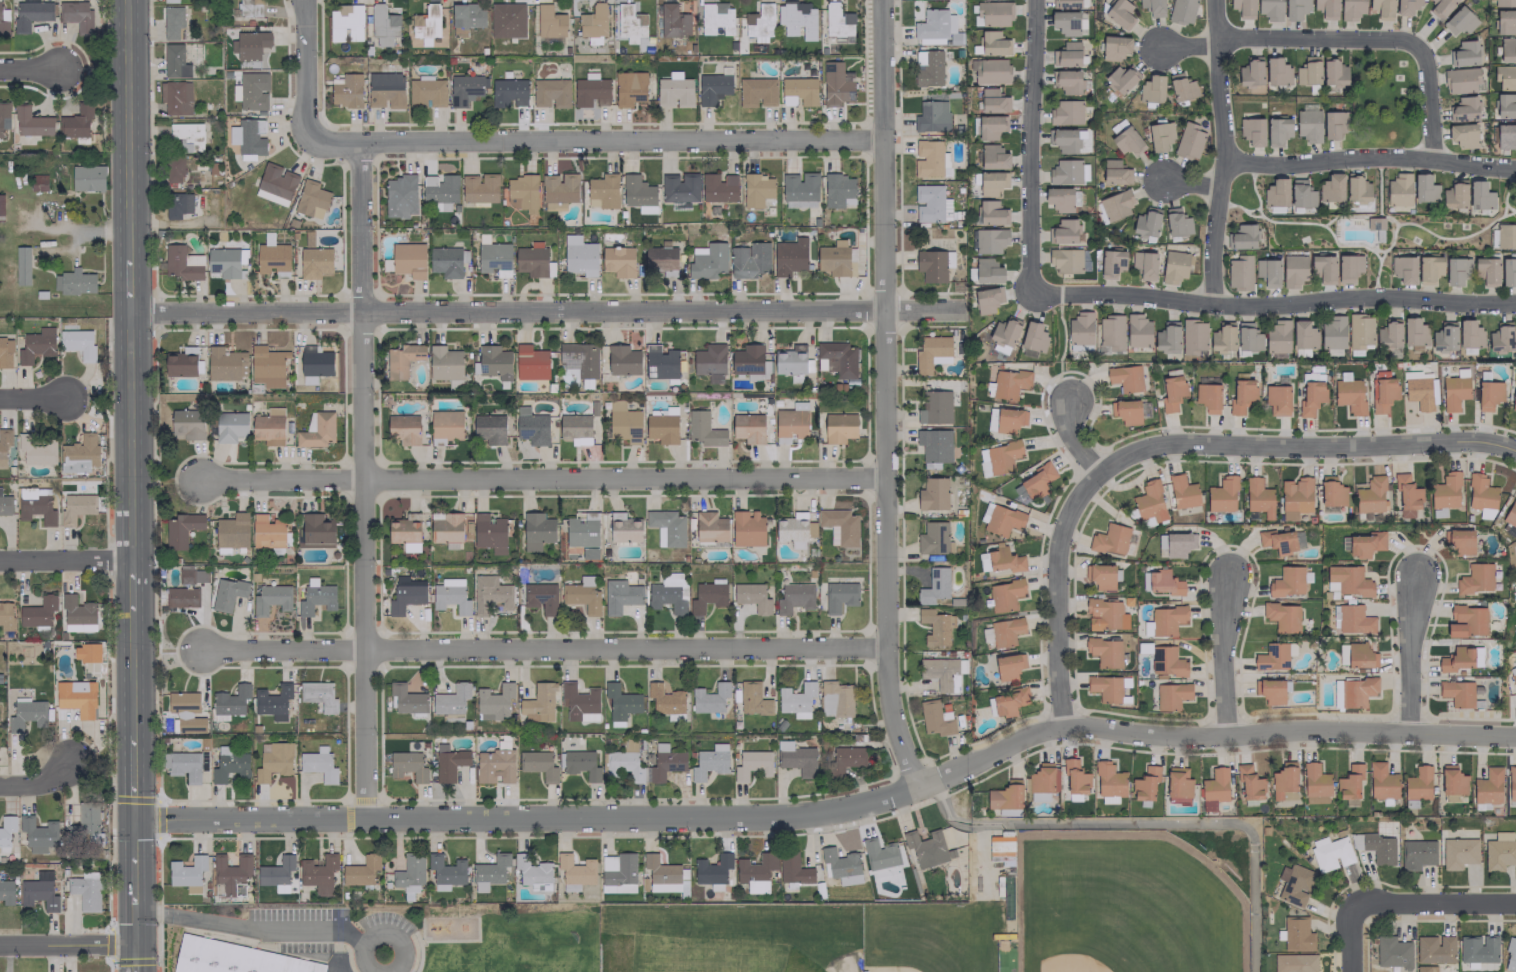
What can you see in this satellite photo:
building: (169, 1)
building: (1065, 3)
building: (1504, 3)
building: (1406, 6)
building: (1152, 7)
building: (249, 8)
building: (1243, 8)
building: (1326, 8)
building: (1440, 8)
building: (1269, 9)
building: (1295, 9)
building: (1350, 9)
building: (1382, 9)
building: (1181, 11)
building: (992, 13)
building: (1118, 13)
building: (30, 14)
building: (76, 15)
building: (466, 17)
building: (715, 17)
building: (507, 19)
building: (796, 19)
building: (344, 20)
building: (837, 20)
building: (3, 21)
building: (593, 21)
building: (673, 21)
building: (1459, 21)
building: (1504, 21)
building: (172, 22)
building: (549, 22)
building: (759, 22)
building: (1065, 22)
building: (629, 23)
building: (425, 24)
building: (383, 25)
building: (935, 27)
road: (1318, 39)
building: (992, 43)
building: (249, 44)
road: (1189, 46)
building: (1114, 47)
building: (1507, 50)
building: (1464, 53)
building: (1066, 54)
building: (174, 61)
road: (309, 66)
building: (927, 67)
road: (29, 70)
building: (990, 71)
building: (1276, 71)
building: (1308, 71)
building: (1250, 72)
building: (1333, 72)
building: (1505, 76)
building: (1120, 79)
building: (1461, 80)
building: (1066, 81)
building: (835, 84)
building: (1181, 87)
building: (629, 88)
building: (712, 88)
building: (385, 89)
building: (464, 89)
building: (1151, 89)
building: (590, 90)
building: (252, 91)
building: (346, 91)
building: (756, 91)
building: (798, 91)
building: (674, 92)
building: (426, 93)
building: (508, 93)
building: (550, 93)
building: (175, 97)
building: (993, 101)
road: (1429, 103)
building: (1505, 105)
building: (1463, 109)
building: (1065, 112)
building: (4, 115)
building: (931, 116)
building: (31, 122)
building: (75, 122)
building: (1334, 124)
building: (1308, 125)
building: (989, 127)
road: (132, 128)
building: (1251, 130)
building: (1277, 131)
building: (187, 135)
building: (1159, 135)
building: (1462, 135)
building: (1505, 135)
building: (248, 137)
building: (1124, 138)
building: (1062, 139)
building: (1188, 141)
road: (594, 142)
road: (1029, 147)
road: (1224, 152)
building: (993, 157)
building: (930, 159)
road: (1370, 159)
building: (173, 168)
building: (1068, 172)
building: (1113, 172)
building: (87, 177)
building: (37, 182)
building: (991, 182)
building: (275, 184)
road: (1193, 185)
building: (679, 187)
building: (718, 187)
building: (479, 188)
building: (1331, 188)
building: (1424, 188)
building: (756, 189)
building: (799, 189)
building: (1398, 189)
building: (440, 190)
building: (558, 190)
building: (838, 190)
building: (1357, 190)
building: (602, 191)
building: (521, 192)
building: (1275, 192)
building: (638, 193)
building: (1300, 194)
building: (1454, 195)
building: (1480, 195)
building: (399, 196)
building: (310, 199)
building: (1059, 199)
building: (930, 203)
building: (177, 204)
building: (1115, 205)
building: (1, 207)
building: (989, 212)
building: (1146, 222)
building: (1176, 222)
building: (1063, 231)
building: (1506, 235)
building: (1241, 237)
building: (989, 240)
building: (579, 256)
building: (789, 256)
building: (493, 258)
building: (660, 258)
building: (272, 259)
building: (408, 259)
building: (836, 259)
building: (618, 260)
building: (706, 260)
building: (748, 260)
building: (1065, 260)
building: (314, 261)
building: (445, 261)
building: (531, 261)
building: (182, 262)
building: (224, 262)
building: (1111, 263)
building: (933, 264)
building: (1143, 264)
building: (21, 265)
building: (1174, 266)
building: (1348, 267)
building: (1323, 268)
building: (1403, 269)
building: (1428, 269)
building: (987, 270)
building: (1293, 270)
building: (1456, 270)
building: (1486, 270)
building: (1508, 271)
building: (1239, 272)
building: (1267, 272)
building: (74, 281)
road: (134, 286)
building: (986, 299)
road: (1273, 304)
road: (546, 312)
building: (1079, 328)
building: (1137, 330)
building: (1004, 331)
building: (1110, 331)
building: (1332, 331)
building: (1359, 331)
building: (1414, 331)
building: (1515, 331)
building: (1388, 334)
building: (1469, 334)
building: (1303, 335)
building: (1193, 336)
building: (1033, 337)
building: (1167, 337)
building: (1222, 337)
building: (1247, 337)
building: (1443, 337)
building: (1500, 337)
building: (1277, 338)
building: (77, 342)
building: (36, 345)
building: (5, 352)
building: (1301, 352)
building: (931, 353)
building: (578, 358)
building: (837, 358)
building: (401, 359)
building: (747, 359)
building: (622, 360)
building: (791, 360)
building: (494, 361)
building: (180, 362)
building: (530, 362)
building: (660, 362)
building: (709, 362)
building: (225, 363)
building: (444, 363)
building: (314, 364)
building: (267, 366)
building: (1311, 376)
building: (1125, 377)
building: (1009, 382)
building: (1382, 390)
building: (1453, 392)
building: (1171, 393)
building: (1488, 394)
road: (885, 395)
building: (1349, 395)
building: (1240, 396)
road: (32, 397)
building: (1207, 397)
building: (1310, 397)
building: (1513, 399)
building: (1277, 400)
building: (934, 407)
building: (1125, 411)
building: (1006, 420)
building: (623, 423)
building: (186, 424)
building: (445, 425)
building: (789, 425)
building: (229, 426)
building: (268, 426)
building: (531, 426)
building: (747, 427)
building: (838, 427)
building: (403, 428)
building: (489, 428)
building: (575, 428)
building: (661, 428)
building: (703, 429)
building: (317, 430)
road: (135, 436)
road: (1072, 440)
building: (4, 444)
building: (934, 446)
road: (1303, 448)
building: (36, 449)
building: (79, 453)
building: (1002, 456)
building: (982, 462)
road: (544, 480)
building: (1037, 480)
road: (366, 482)
building: (1445, 490)
building: (1182, 491)
building: (1331, 492)
building: (932, 494)
building: (1222, 494)
building: (1406, 494)
building: (1370, 495)
building: (1481, 495)
building: (1258, 497)
building: (1295, 497)
building: (1149, 501)
building: (5, 505)
building: (34, 506)
building: (76, 507)
building: (1510, 513)
building: (999, 519)
building: (839, 526)
building: (445, 527)
building: (623, 527)
building: (666, 527)
building: (709, 527)
building: (746, 527)
building: (181, 529)
building: (794, 529)
building: (231, 530)
building: (536, 530)
building: (581, 530)
building: (315, 531)
building: (404, 531)
building: (267, 532)
building: (489, 533)
building: (933, 538)
building: (1110, 539)
building: (1276, 540)
building: (1458, 541)
building: (1174, 543)
building: (1364, 544)
road: (67, 558)
building: (1000, 559)
building: (190, 574)
building: (1100, 575)
building: (1475, 578)
building: (669, 579)
building: (1346, 580)
building: (1289, 581)
building: (1164, 583)
road: (135, 585)
building: (934, 585)
building: (227, 593)
building: (405, 594)
building: (490, 594)
building: (1004, 594)
road: (1054, 594)
building: (450, 595)
building: (581, 595)
building: (620, 595)
building: (540, 596)
building: (706, 596)
building: (751, 596)
building: (839, 596)
building: (181, 597)
building: (315, 597)
building: (794, 597)
building: (665, 598)
building: (270, 599)
building: (76, 610)
building: (37, 611)
building: (1105, 614)
building: (6, 615)
building: (1282, 616)
building: (1166, 619)
building: (1351, 619)
building: (1466, 621)
building: (935, 626)
building: (78, 627)
building: (1005, 631)
road: (545, 649)
building: (1104, 651)
building: (86, 652)
building: (1354, 654)
road: (1406, 654)
road: (1218, 655)
building: (1273, 656)
building: (1456, 659)
building: (1166, 661)
building: (1008, 666)
road: (135, 672)
building: (940, 673)
building: (1513, 680)
building: (1106, 688)
building: (1269, 690)
building: (1356, 691)
building: (1457, 692)
building: (318, 695)
building: (1170, 695)
building: (76, 697)
building: (709, 698)
building: (753, 698)
building: (835, 698)
building: (406, 699)
building: (451, 699)
building: (796, 699)
building: (665, 700)
building: (272, 701)
building: (1008, 701)
building: (230, 702)
building: (493, 702)
building: (579, 702)
building: (538, 703)
building: (620, 703)
building: (186, 712)
building: (26, 714)
building: (935, 718)
road: (1287, 731)
building: (796, 758)
building: (845, 758)
building: (273, 761)
building: (709, 761)
building: (448, 762)
building: (626, 763)
building: (228, 764)
building: (318, 764)
building: (538, 764)
building: (581, 764)
building: (665, 764)
building: (751, 764)
building: (183, 765)
building: (407, 765)
building: (494, 766)
road: (137, 776)
building: (1074, 776)
road: (39, 779)
building: (1108, 780)
building: (1452, 780)
building: (1042, 781)
building: (1381, 781)
building: (1248, 782)
building: (1283, 782)
building: (1349, 782)
building: (1511, 782)
building: (1144, 783)
building: (1418, 783)
building: (1314, 784)
building: (1178, 785)
building: (1487, 786)
building: (1213, 788)
building: (1005, 795)
road: (606, 820)
building: (85, 821)
traffic signals: (137, 822)
building: (6, 829)
building: (37, 834)
road: (137, 839)
building: (925, 847)
building: (1000, 847)
building: (1375, 847)
building: (1499, 851)
building: (1329, 852)
building: (1458, 852)
building: (1416, 853)
building: (878, 854)
building: (841, 866)
building: (446, 869)
building: (575, 869)
building: (711, 869)
building: (793, 869)
building: (360, 870)
building: (230, 871)
building: (275, 871)
building: (489, 872)
building: (532, 872)
building: (617, 872)
building: (755, 872)
building: (187, 873)
building: (318, 873)
building: (664, 874)
building: (409, 875)
road: (137, 882)
building: (1293, 884)
building: (85, 890)
building: (38, 891)
building: (6, 892)
park: (1125, 903)
road: (1433, 905)
road: (137, 926)
road: (314, 929)
building: (1296, 934)
road: (1352, 941)
road: (69, 944)
traffic signals: (138, 944)
building: (1477, 948)
building: (1434, 949)
building: (1392, 952)
building: (1510, 956)
road: (138, 958)
building: (235, 958)
building: (1294, 962)
building: (1425, 968)

